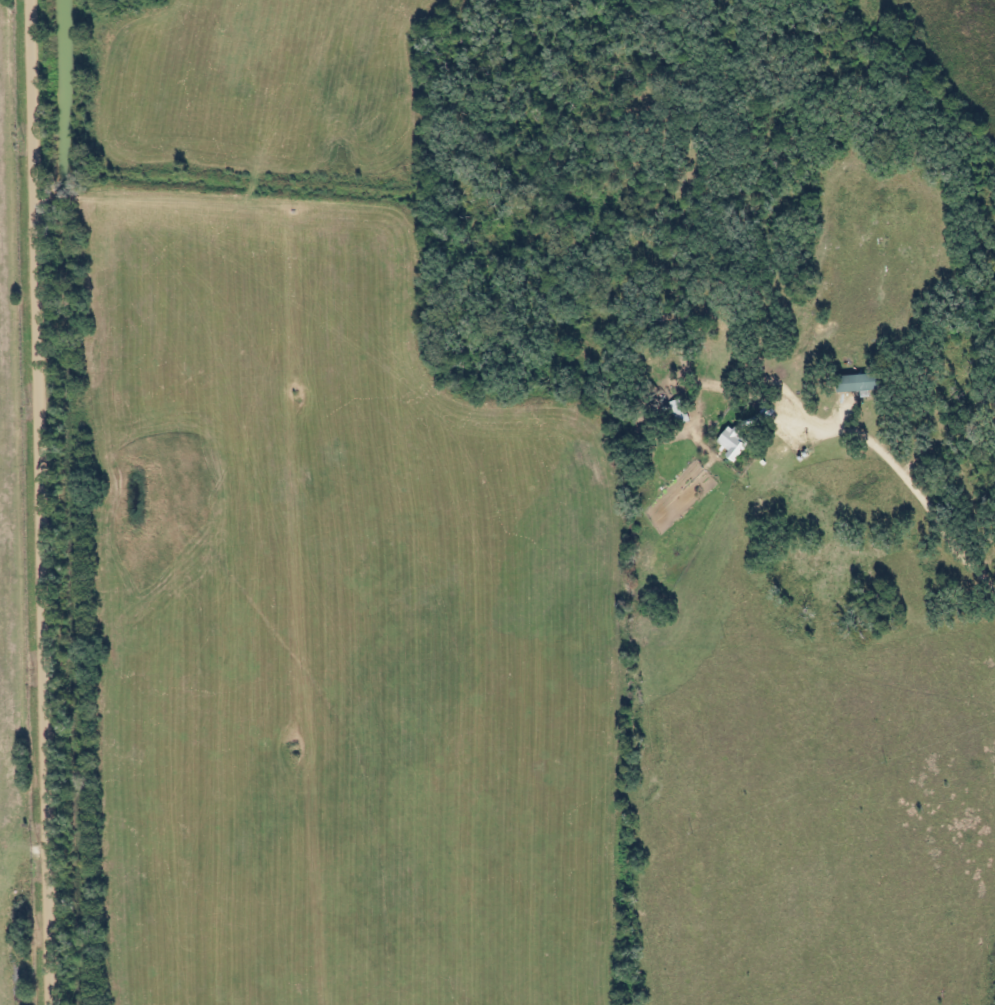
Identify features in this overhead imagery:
building: (849, 383)
road: (43, 502)
road: (936, 510)

